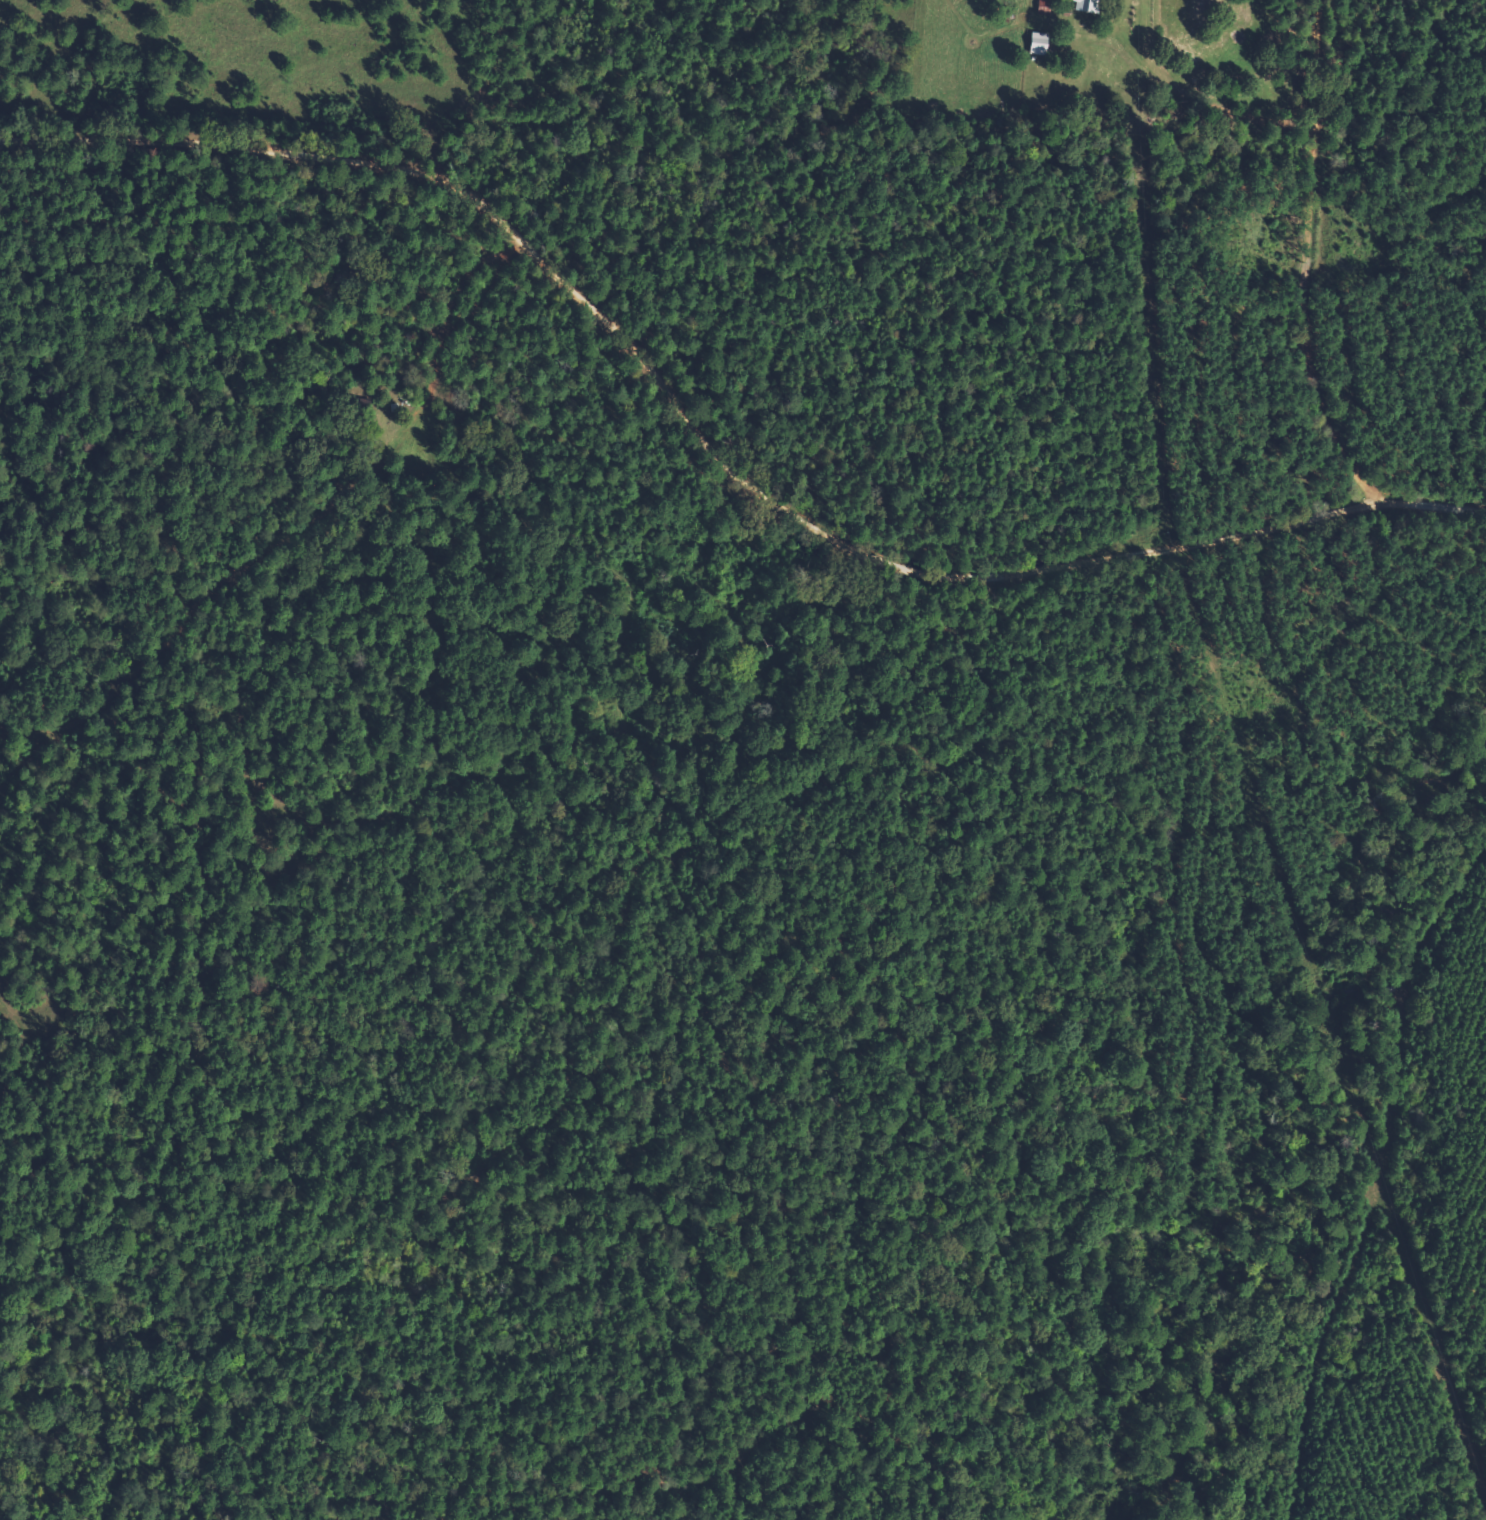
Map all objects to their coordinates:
building: (1086, 5)
road: (1170, 111)
road: (1322, 246)
road: (676, 414)
road: (1420, 487)

